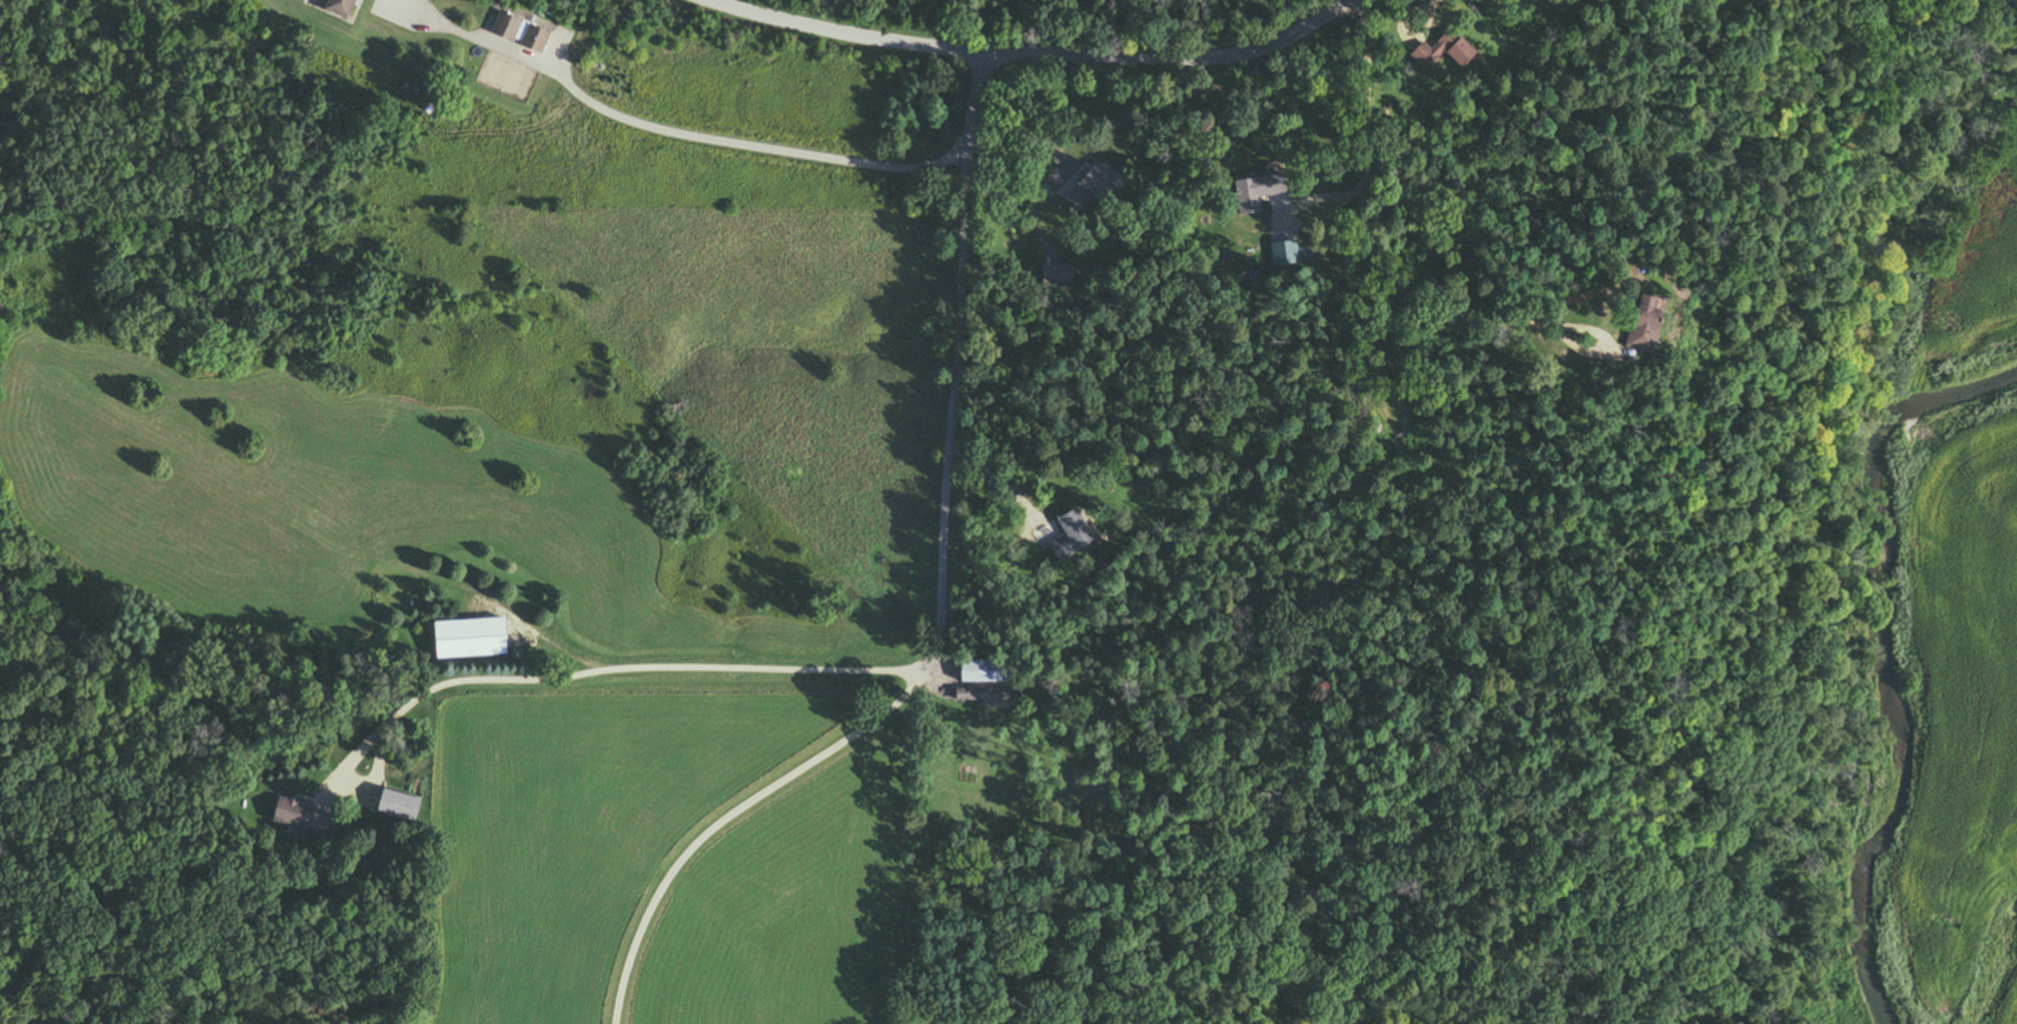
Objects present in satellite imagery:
building: (328, 6)
building: (499, 26)
road: (841, 27)
building: (528, 40)
building: (1439, 52)
road: (1173, 57)
road: (661, 128)
road: (1058, 175)
building: (1086, 187)
building: (1253, 189)
road: (1358, 224)
road: (1038, 232)
building: (1284, 252)
building: (1053, 276)
building: (1638, 320)
road: (1612, 347)
building: (1064, 535)
road: (941, 604)
building: (463, 638)
road: (619, 671)
building: (973, 671)
building: (971, 695)
building: (294, 817)

